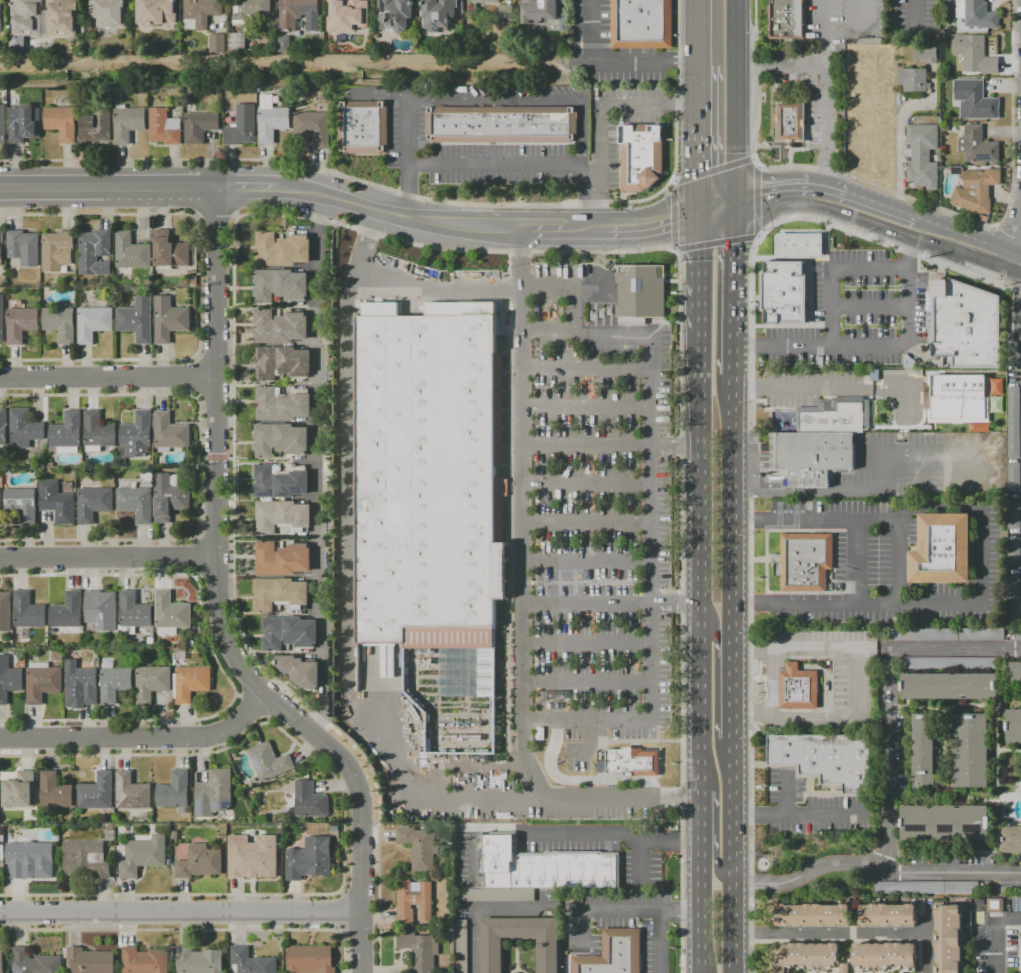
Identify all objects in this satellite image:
building: (485, 1)
building: (347, 7)
building: (248, 10)
building: (201, 11)
building: (539, 11)
building: (156, 12)
building: (504, 12)
building: (108, 13)
building: (293, 13)
building: (438, 14)
building: (394, 15)
road: (862, 16)
building: (974, 16)
building: (26, 17)
road: (918, 17)
building: (61, 18)
building: (786, 18)
building: (0, 19)
building: (641, 24)
road: (824, 31)
building: (216, 43)
building: (237, 43)
building: (283, 45)
building: (924, 55)
building: (974, 57)
road: (617, 63)
road: (779, 63)
building: (913, 80)
road: (495, 99)
building: (974, 100)
road: (733, 101)
road: (686, 104)
road: (697, 105)
road: (599, 118)
building: (271, 120)
building: (789, 122)
building: (23, 123)
building: (61, 123)
building: (2, 124)
building: (127, 124)
road: (826, 124)
building: (500, 125)
building: (241, 126)
building: (96, 127)
building: (164, 127)
building: (199, 127)
building: (362, 127)
building: (313, 128)
road: (407, 131)
road: (674, 131)
building: (977, 146)
building: (922, 155)
building: (639, 157)
road: (495, 163)
road: (583, 166)
traffic signals: (698, 172)
road: (869, 184)
road: (591, 185)
road: (778, 185)
road: (247, 186)
road: (109, 187)
traffic signals: (762, 187)
road: (407, 190)
building: (976, 190)
road: (443, 201)
road: (872, 201)
road: (715, 207)
road: (398, 215)
road: (599, 217)
traffic signals: (672, 218)
road: (869, 224)
road: (611, 229)
road: (963, 233)
road: (1006, 238)
road: (1011, 240)
road: (411, 242)
building: (800, 244)
traffic signals: (733, 246)
building: (23, 247)
building: (1, 248)
building: (169, 250)
building: (56, 251)
building: (284, 251)
building: (94, 252)
building: (131, 252)
road: (1012, 263)
road: (830, 267)
building: (281, 286)
road: (733, 289)
road: (479, 291)
building: (783, 292)
building: (640, 294)
road: (698, 297)
road: (870, 307)
building: (609, 311)
road: (1018, 312)
building: (601, 314)
parking lot: (855, 314)
building: (594, 316)
building: (2, 318)
building: (168, 319)
building: (136, 320)
building: (60, 323)
building: (93, 323)
building: (20, 324)
building: (966, 324)
building: (281, 328)
road: (548, 330)
road: (872, 346)
building: (1012, 352)
building: (284, 364)
road: (587, 367)
road: (106, 376)
building: (995, 386)
parking lot: (806, 387)
road: (794, 389)
building: (957, 399)
building: (995, 404)
road: (587, 406)
building: (284, 407)
building: (834, 416)
building: (1013, 423)
building: (3, 427)
building: (24, 429)
building: (97, 432)
building: (169, 432)
building: (66, 433)
building: (135, 437)
building: (282, 441)
road: (610, 444)
road: (882, 453)
building: (811, 456)
road: (751, 463)
road: (320, 467)
parking lot: (894, 468)
building: (1014, 476)
building: (282, 483)
road: (587, 484)
building: (432, 491)
road: (782, 493)
building: (169, 498)
building: (56, 502)
building: (135, 503)
building: (21, 504)
building: (93, 504)
road: (732, 504)
building: (0, 507)
building: (1014, 516)
building: (284, 518)
parking lot: (600, 518)
road: (587, 522)
road: (651, 531)
building: (941, 550)
building: (1014, 551)
building: (284, 560)
road: (107, 561)
road: (587, 561)
building: (803, 562)
road: (859, 562)
parking lot: (891, 566)
road: (345, 576)
road: (699, 585)
building: (281, 595)
road: (903, 595)
road: (523, 596)
building: (1014, 601)
road: (817, 604)
road: (611, 605)
road: (216, 606)
building: (100, 609)
building: (67, 611)
building: (5, 612)
building: (170, 612)
building: (132, 613)
building: (26, 616)
road: (711, 626)
building: (291, 634)
building: (946, 635)
building: (1018, 635)
building: (150, 640)
road: (587, 642)
building: (179, 654)
building: (950, 663)
road: (768, 664)
road: (849, 666)
parking lot: (837, 669)
building: (302, 672)
building: (1015, 672)
building: (9, 679)
road: (587, 680)
building: (42, 681)
building: (114, 682)
building: (151, 682)
building: (190, 682)
building: (83, 684)
building: (948, 686)
road: (732, 687)
building: (797, 688)
road: (892, 696)
building: (1013, 727)
road: (140, 739)
road: (639, 740)
road: (590, 742)
building: (970, 750)
building: (923, 753)
building: (827, 759)
building: (268, 762)
building: (627, 762)
road: (578, 780)
building: (19, 791)
building: (54, 791)
building: (173, 791)
building: (131, 792)
building: (96, 793)
building: (213, 793)
road: (786, 794)
building: (309, 800)
parking lot: (609, 803)
parking lot: (812, 808)
road: (799, 816)
road: (700, 821)
building: (944, 823)
building: (110, 827)
building: (269, 830)
road: (614, 833)
building: (174, 835)
building: (1010, 839)
building: (419, 847)
building: (142, 856)
road: (732, 856)
building: (29, 858)
building: (252, 858)
building: (308, 859)
building: (85, 860)
building: (199, 862)
road: (720, 863)
building: (544, 865)
road: (808, 873)
road: (952, 873)
building: (928, 887)
building: (497, 895)
building: (413, 901)
building: (994, 906)
road: (475, 909)
road: (623, 910)
road: (180, 913)
road: (700, 914)
building: (812, 915)
building: (888, 915)
road: (1008, 916)
parking lot: (621, 923)
road: (830, 934)
building: (948, 939)
road: (658, 941)
road: (928, 941)
road: (995, 945)
building: (461, 946)
building: (420, 950)
building: (613, 954)
building: (884, 955)
building: (491, 956)
building: (806, 956)
building: (310, 959)
building: (89, 961)
building: (144, 961)
building: (198, 961)
building: (1, 962)
building: (34, 962)
building: (249, 962)
building: (845, 968)

